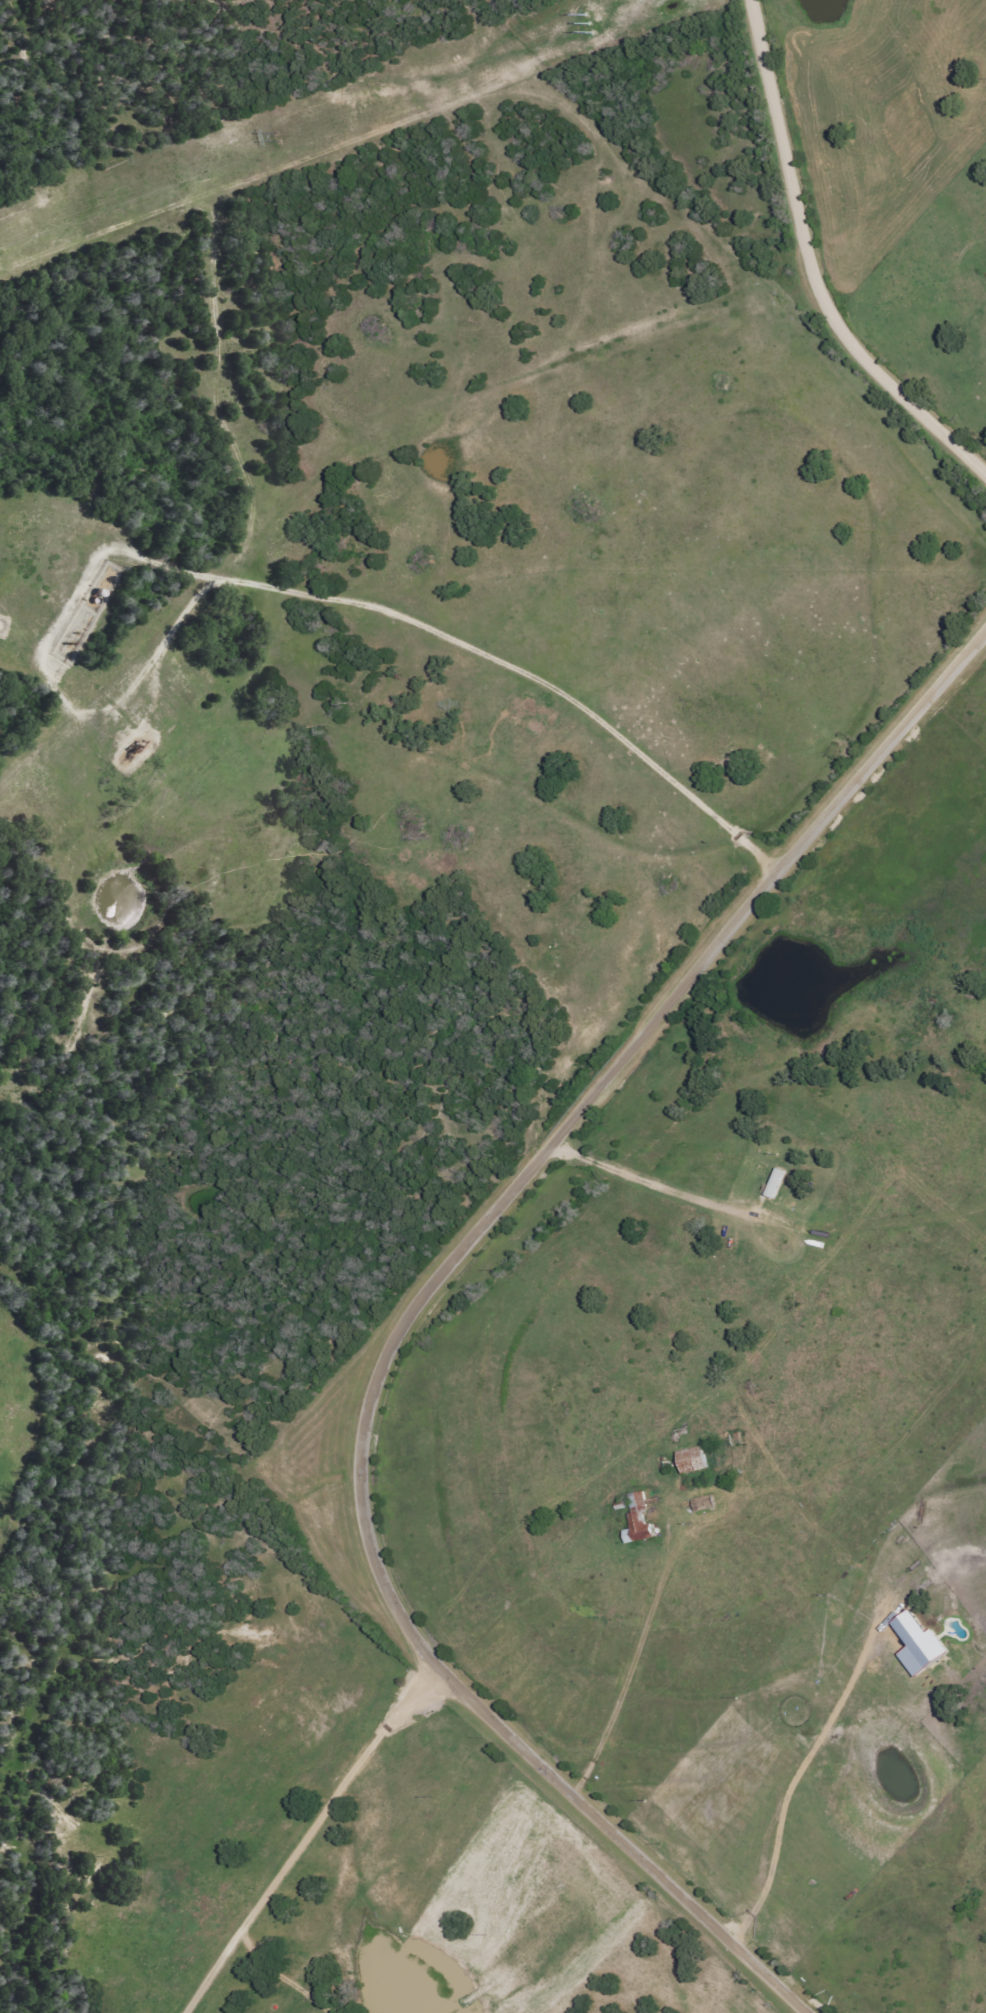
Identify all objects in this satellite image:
power tower: (567, 28)
power tower: (260, 140)
road: (813, 266)
road: (433, 628)
building: (776, 1183)
road: (407, 1310)
building: (693, 1460)
building: (639, 1520)
building: (919, 1644)
road: (625, 1659)
road: (309, 1832)
road: (724, 1997)

